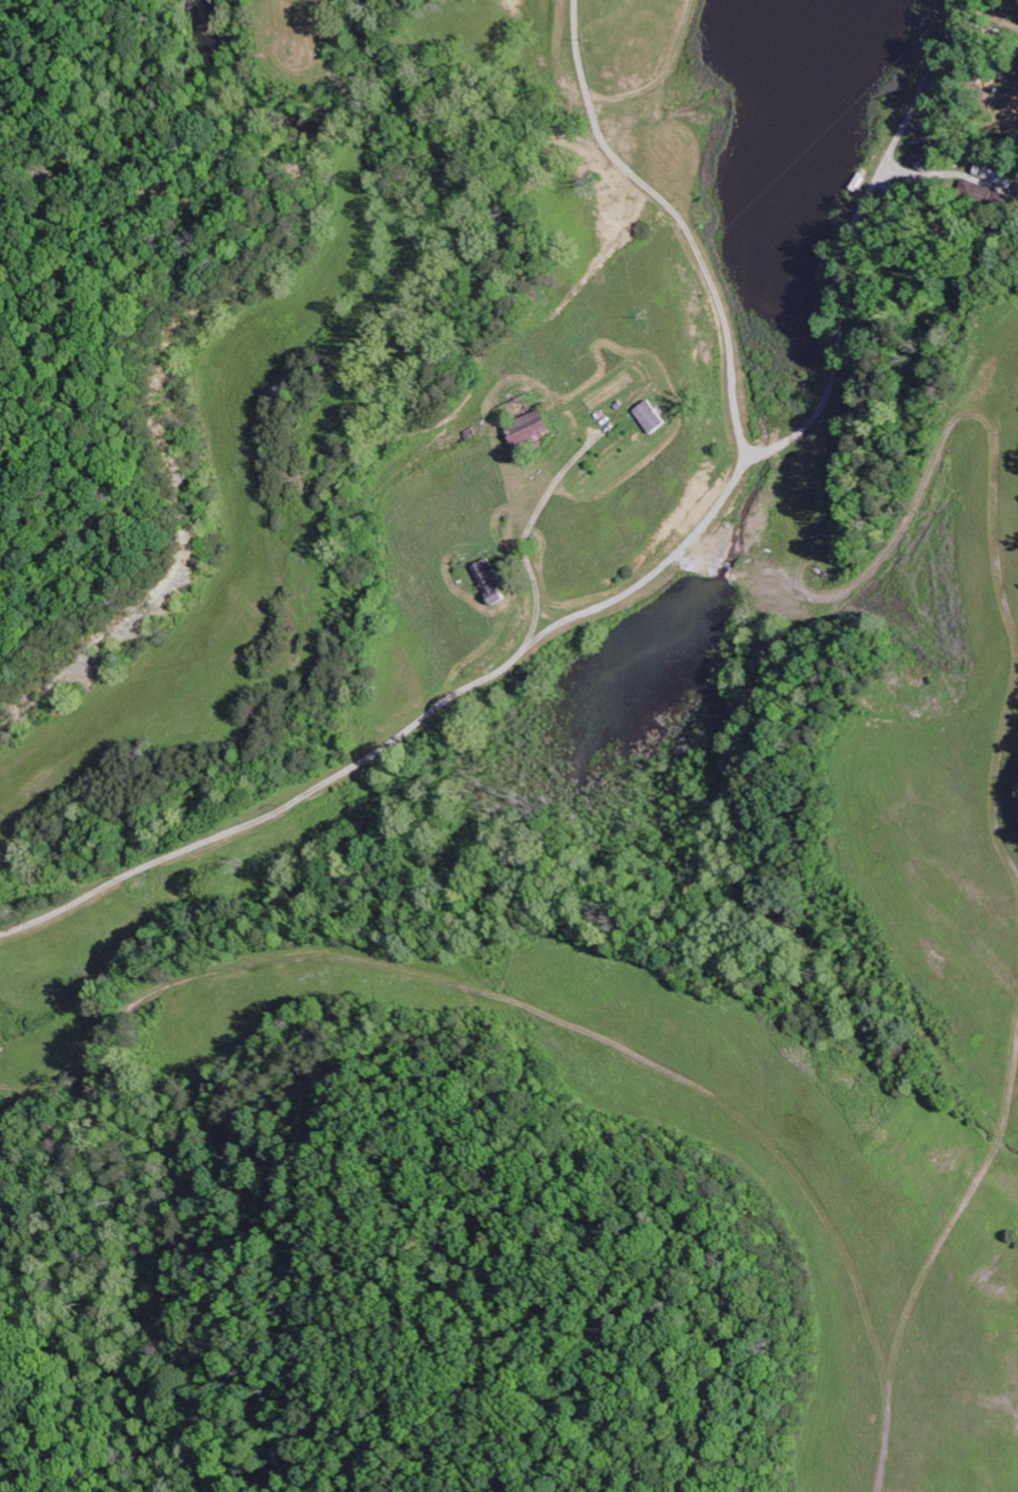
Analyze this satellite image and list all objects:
building: (924, 153)
building: (996, 175)
building: (982, 194)
building: (652, 416)
building: (532, 428)
building: (494, 581)
road: (249, 786)

